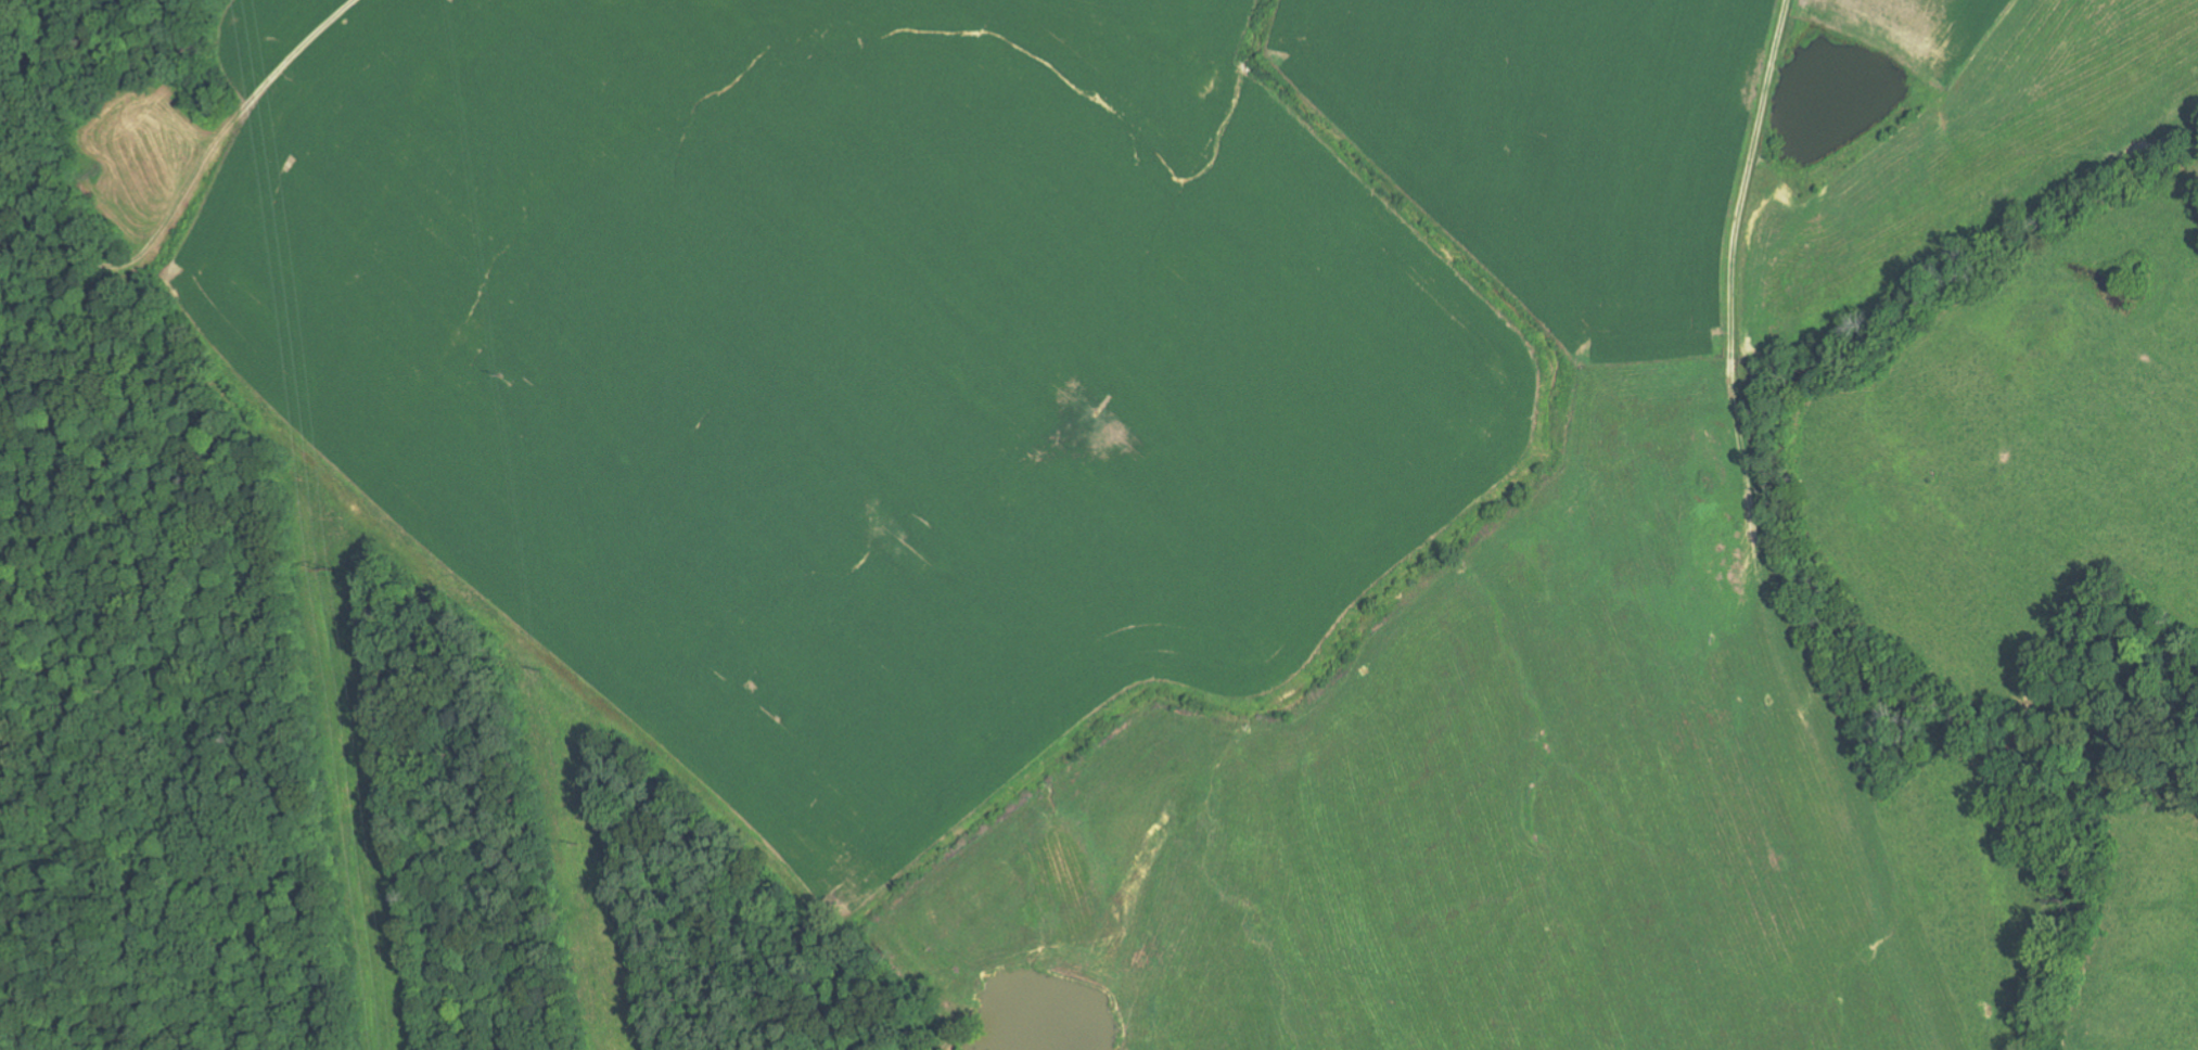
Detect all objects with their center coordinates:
power tower: (333, 565)

